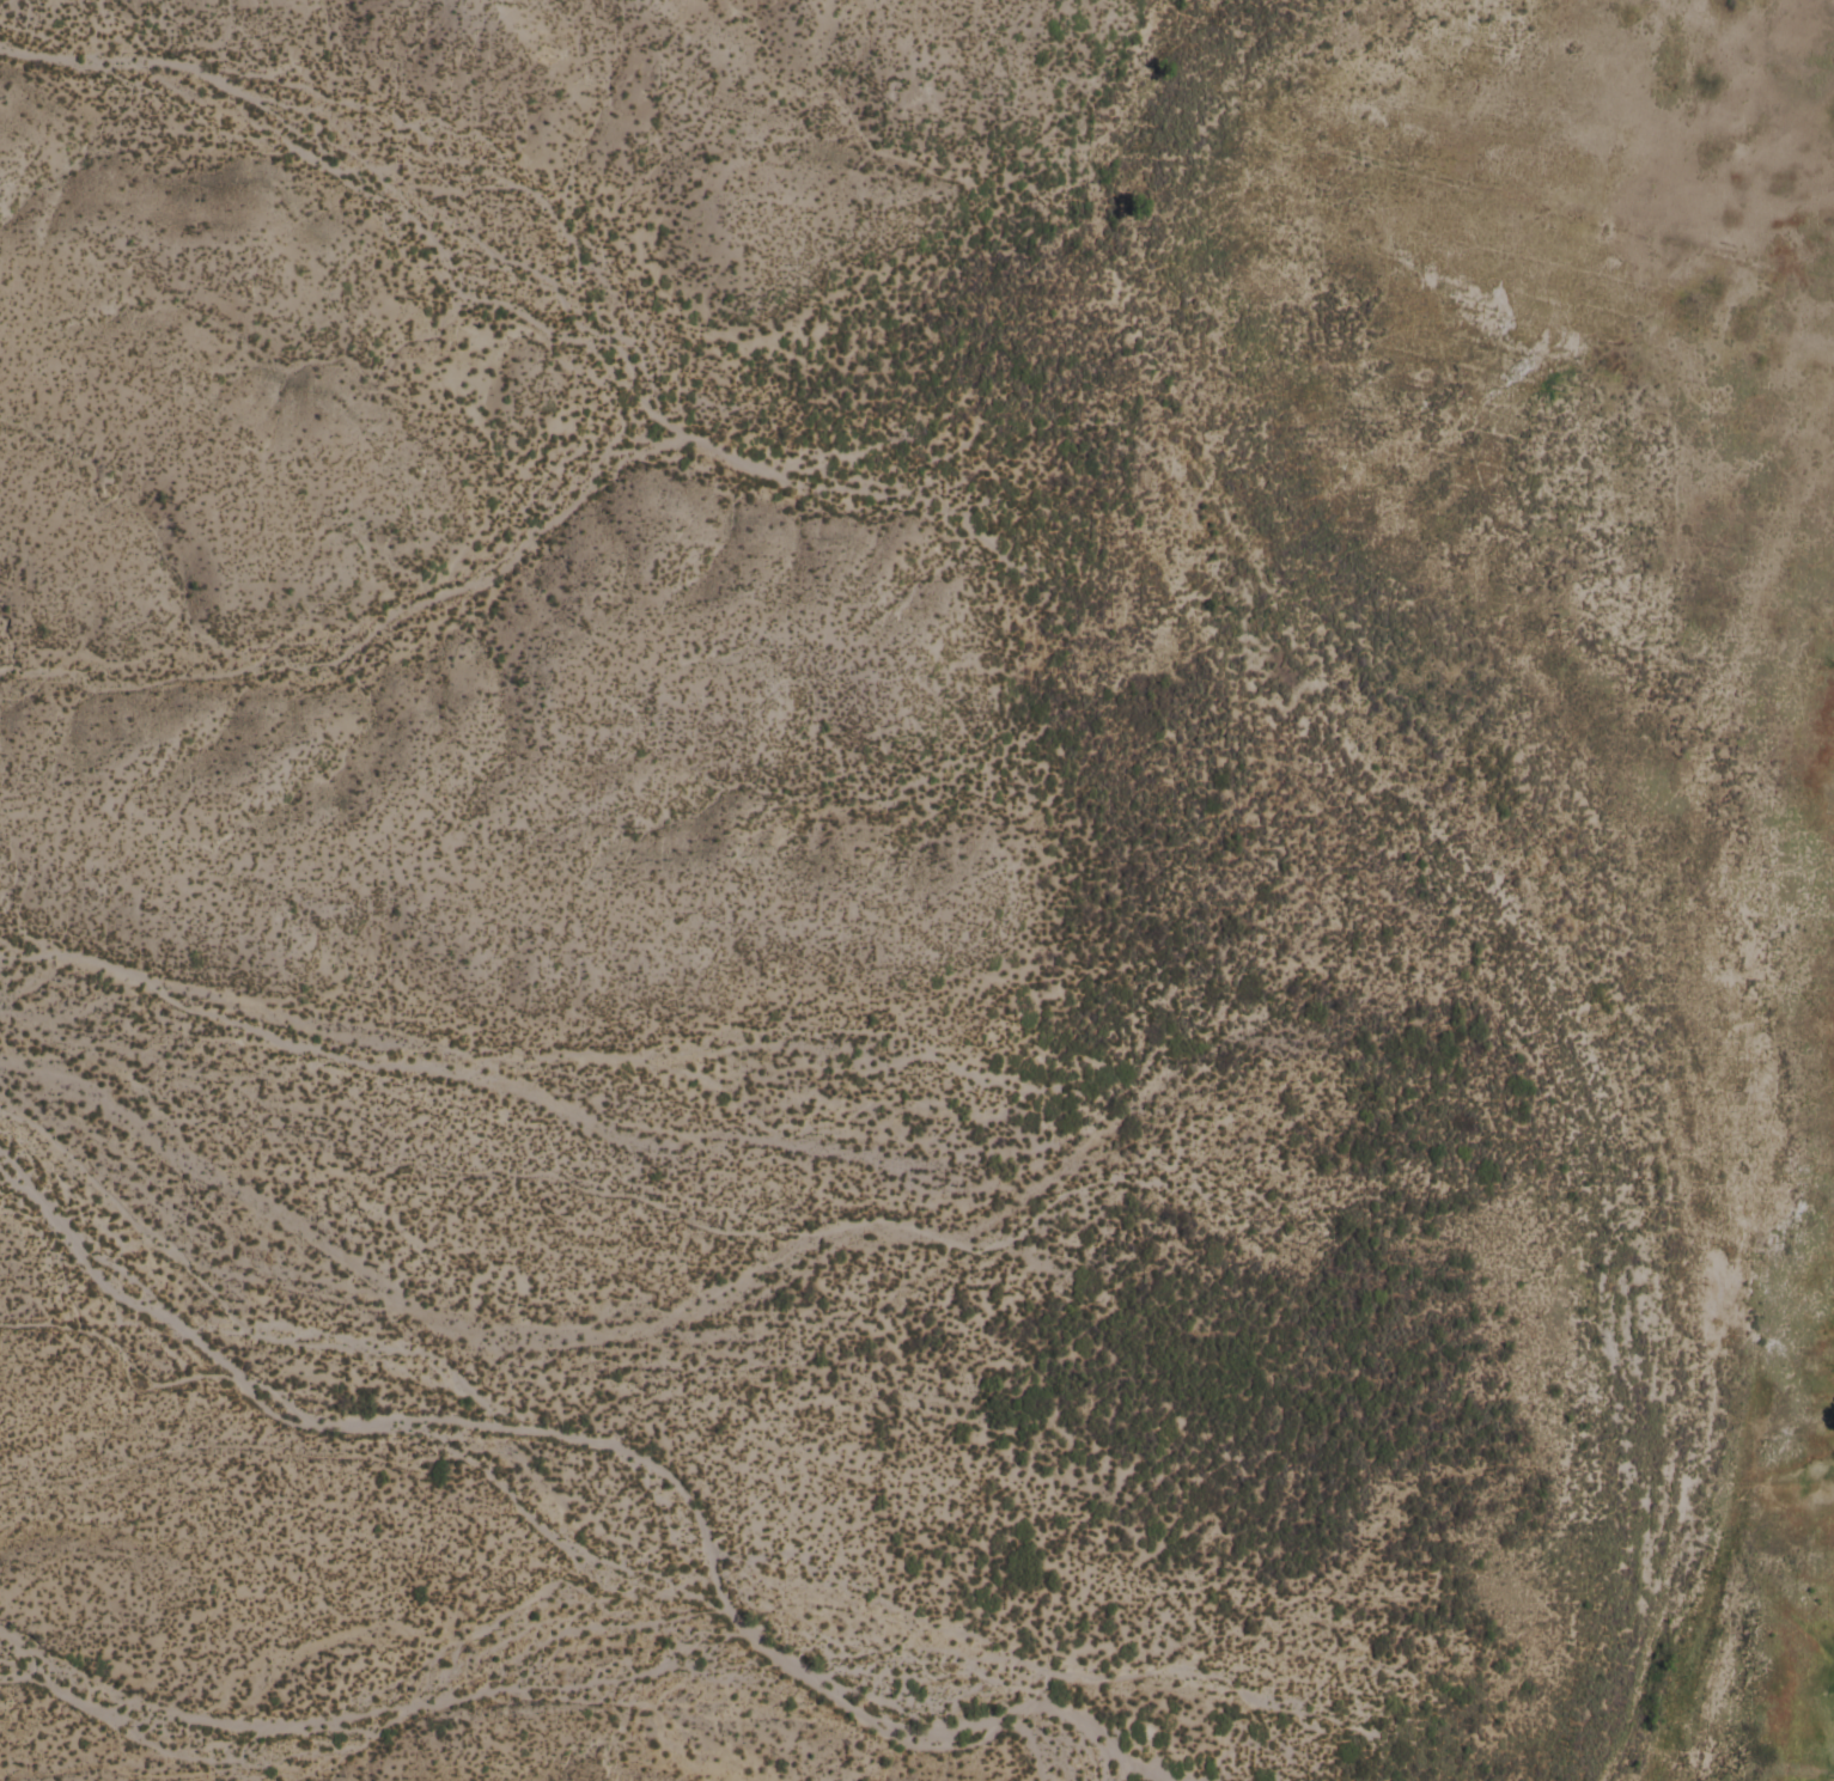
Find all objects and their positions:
road: (1647, 1594)
road: (1625, 1714)

